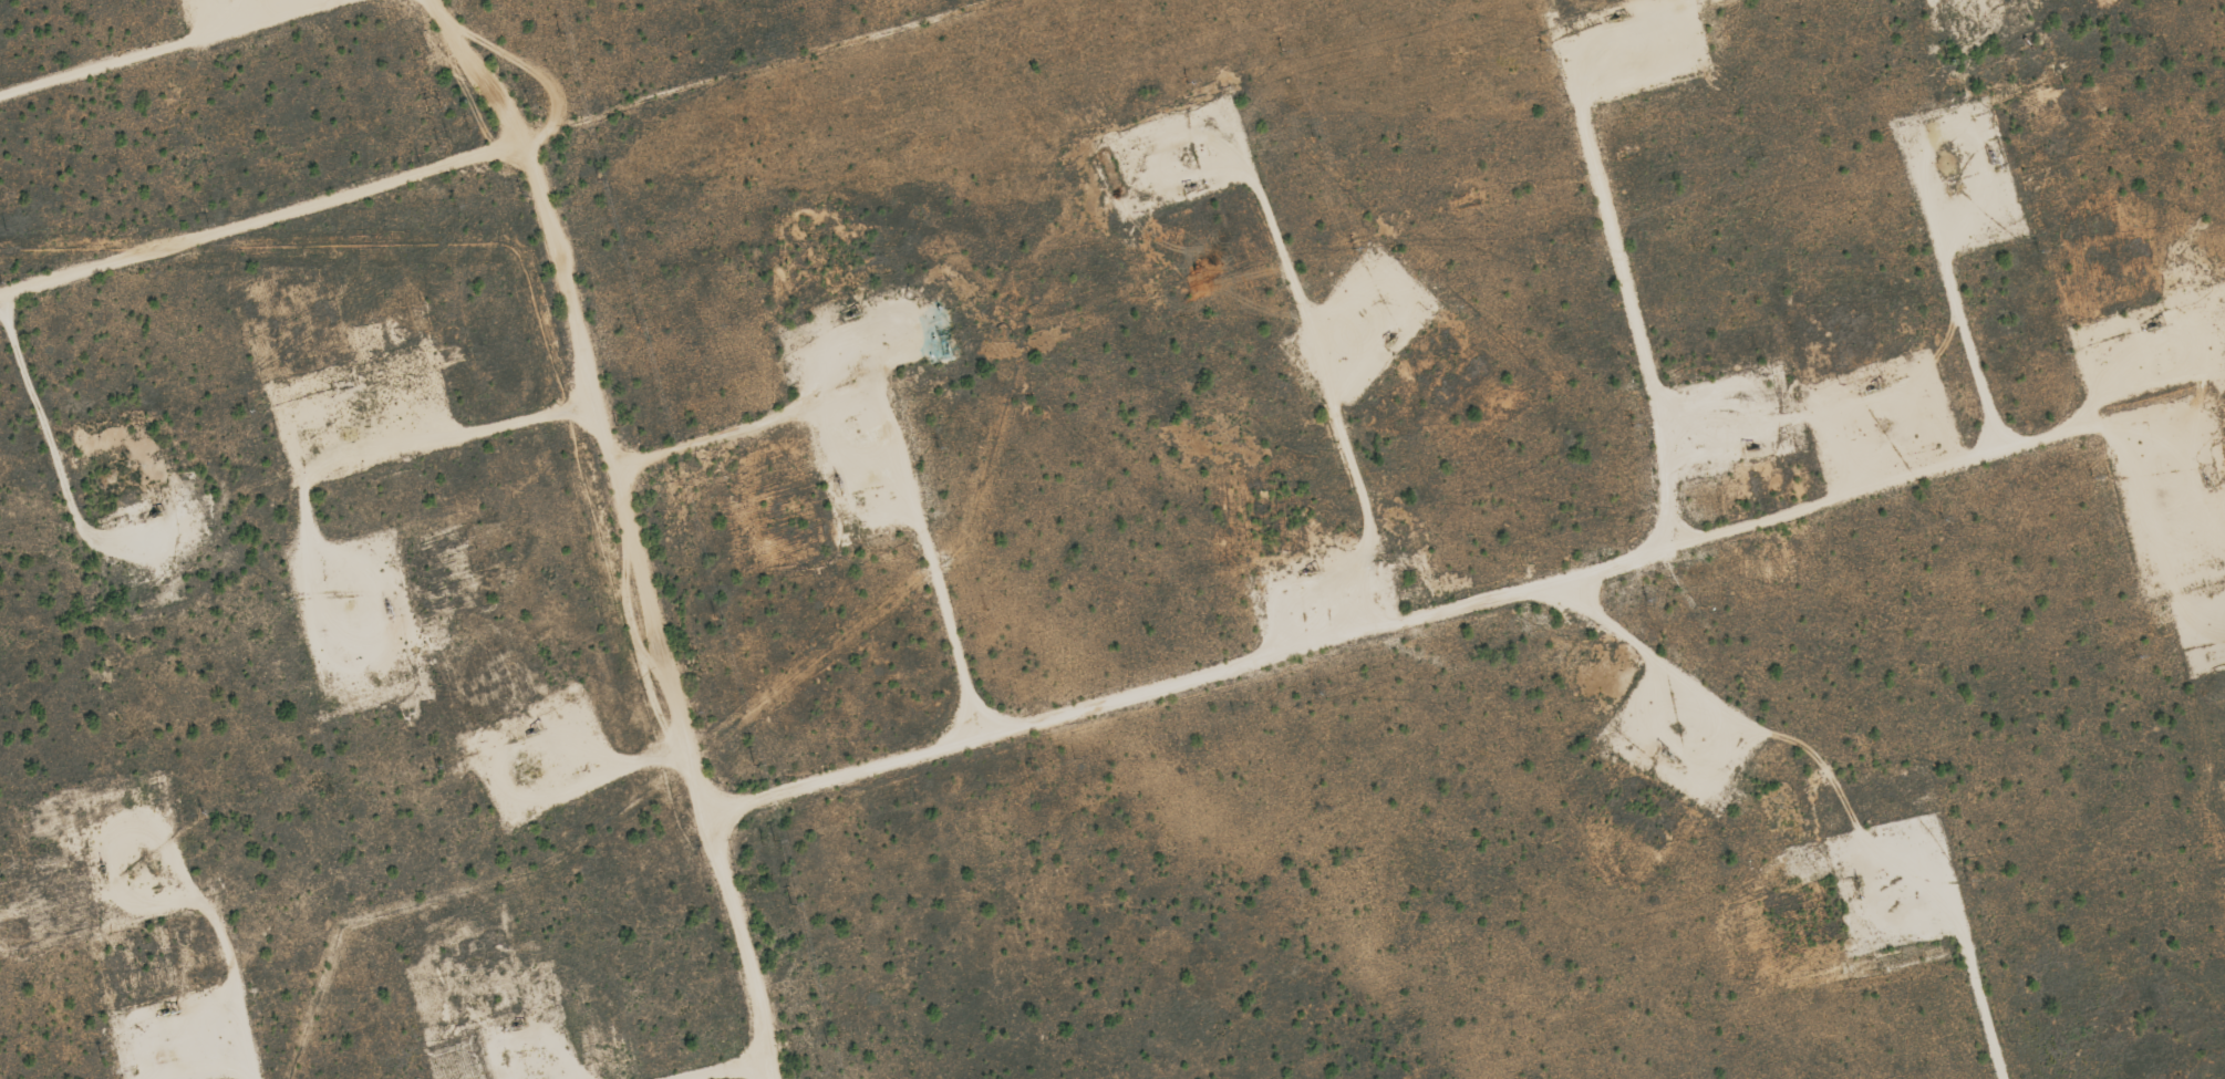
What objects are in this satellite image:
road: (650, 525)

